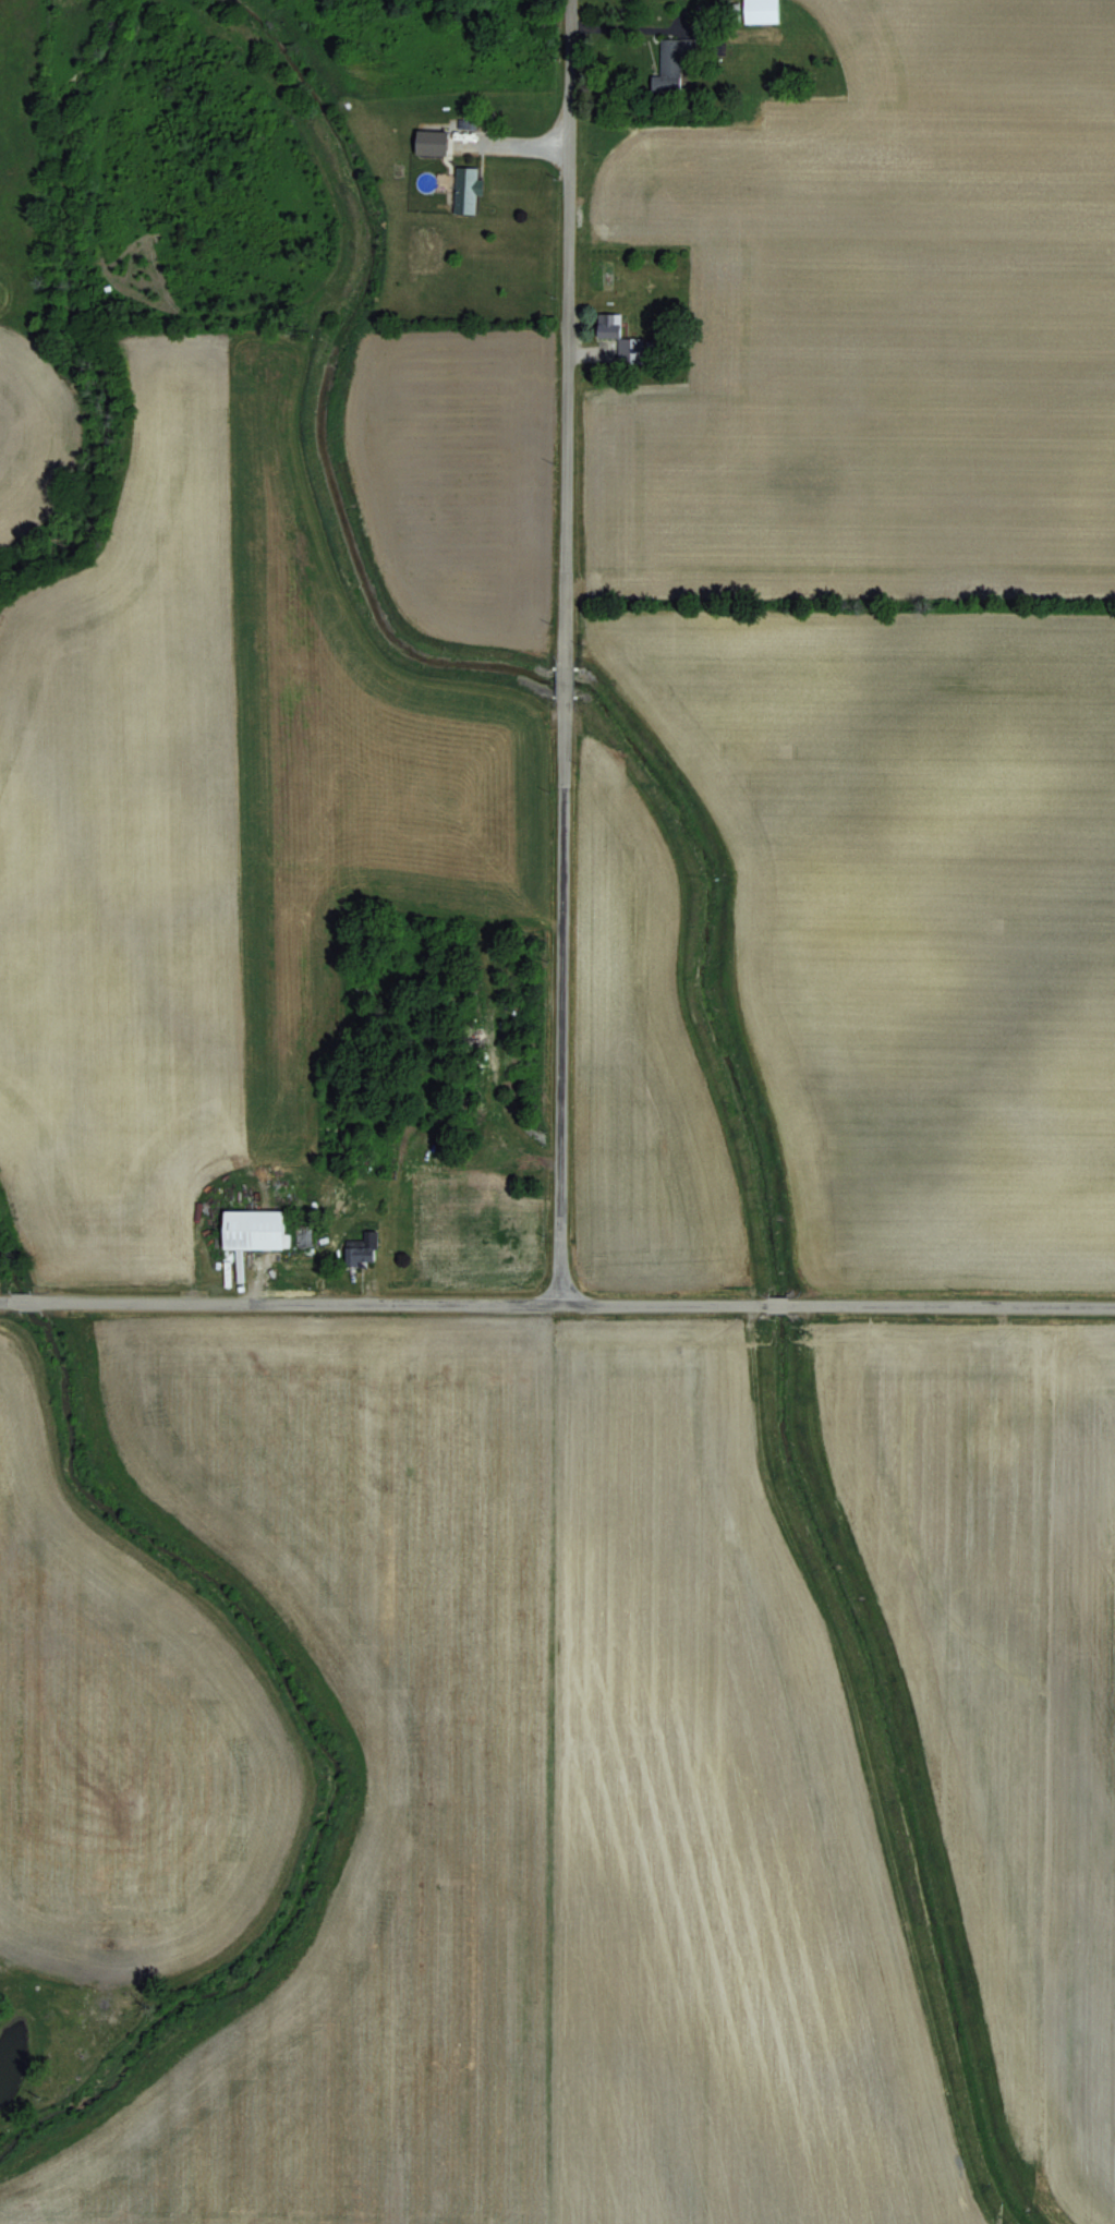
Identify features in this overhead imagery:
road: (560, 650)
road: (557, 1300)

